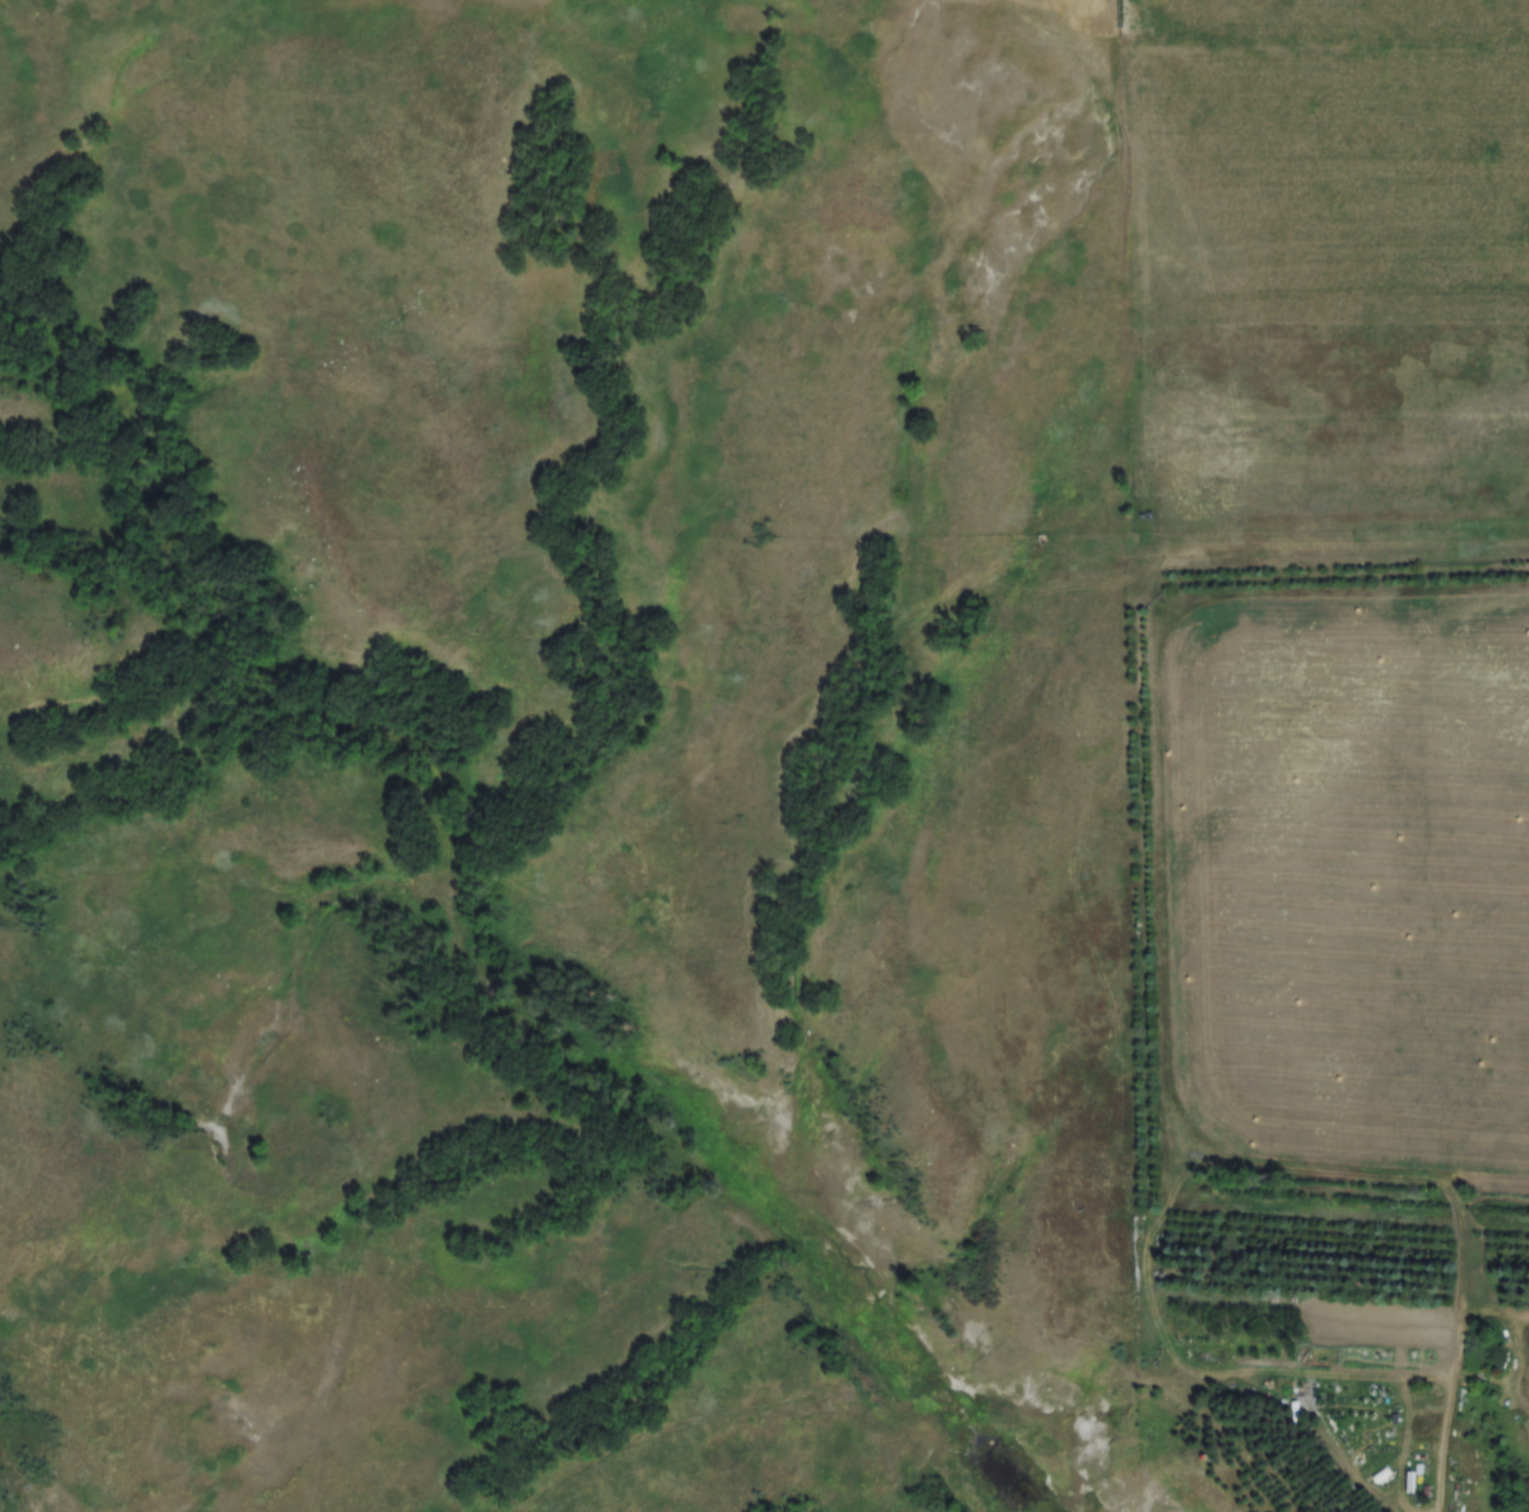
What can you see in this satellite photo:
building: (1290, 1410)

